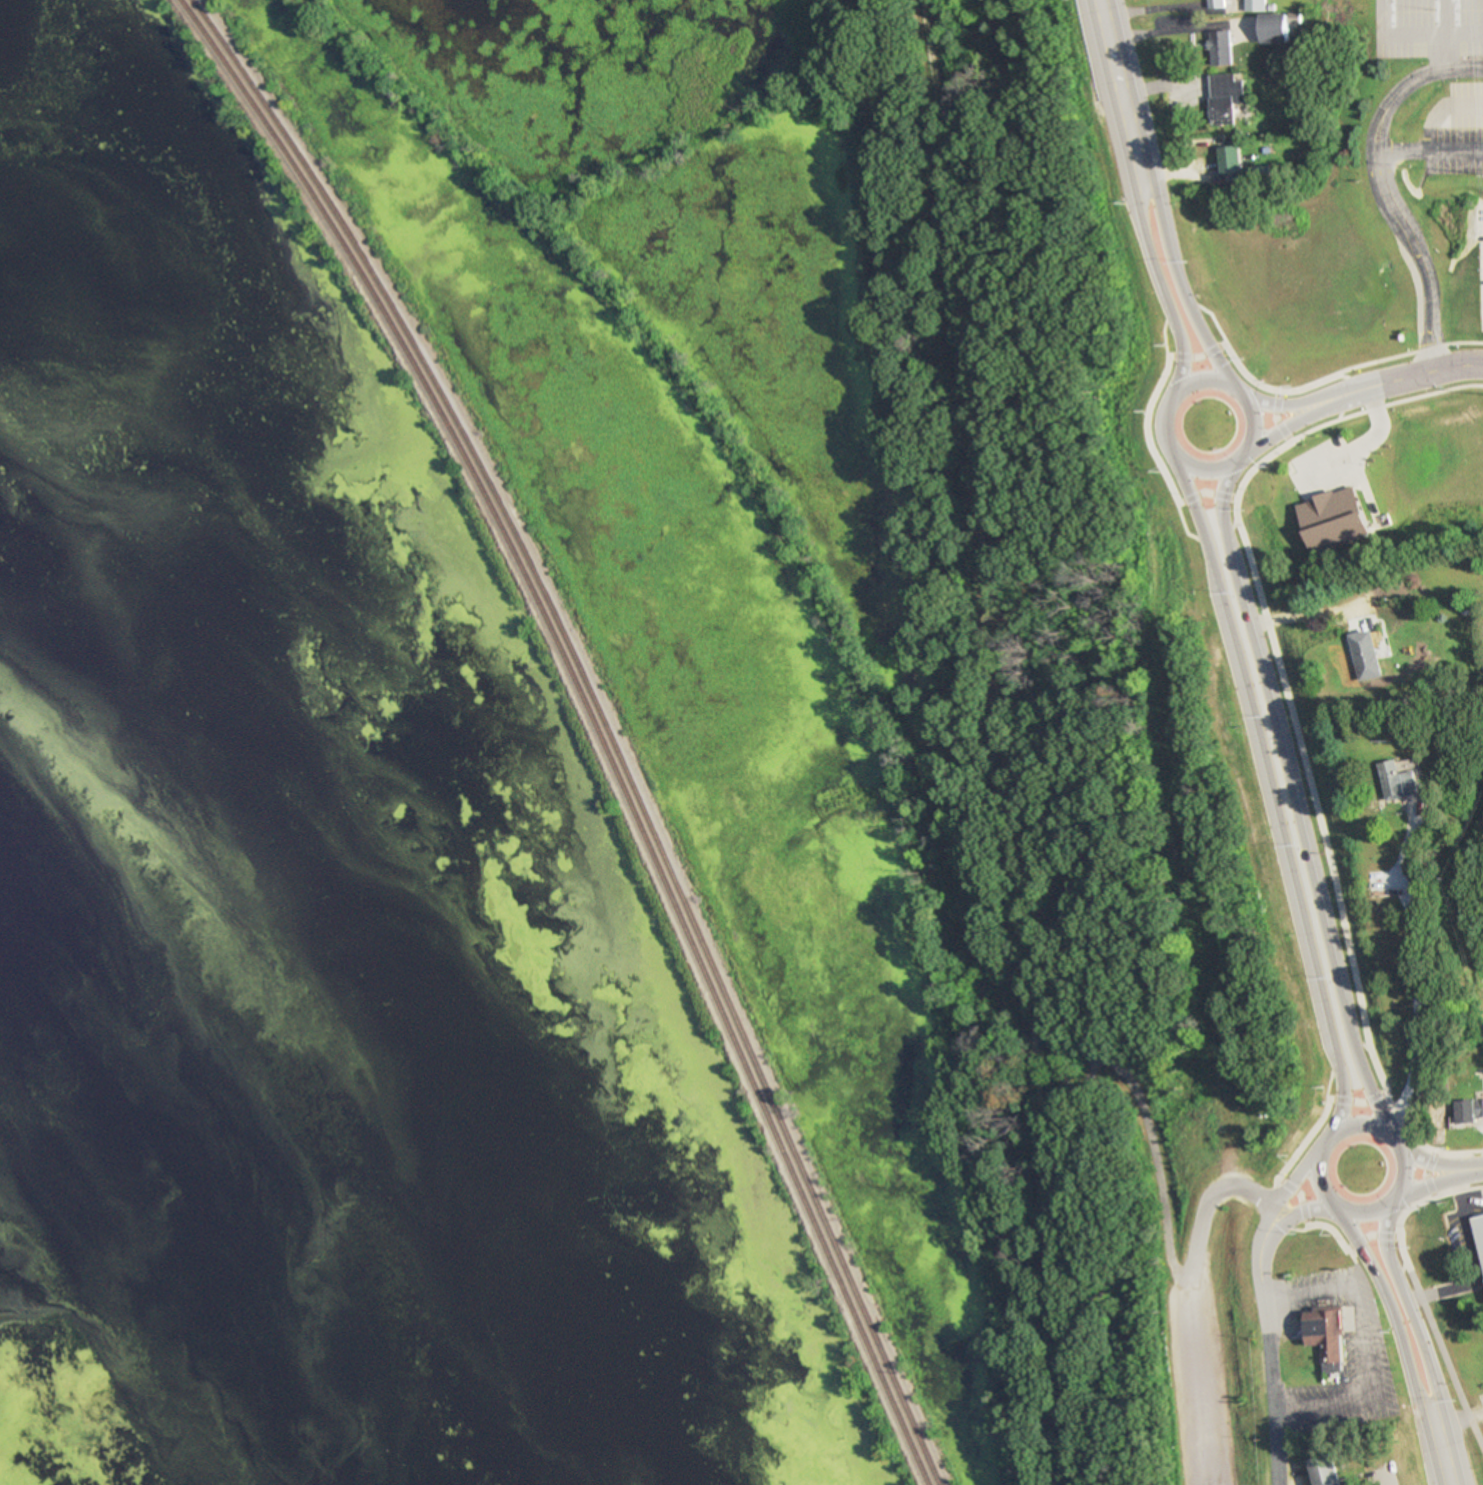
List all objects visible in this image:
road: (1095, 4)
road: (1097, 4)
building: (1215, 4)
building: (1253, 5)
road: (1372, 17)
building: (1276, 27)
parking lot: (1423, 29)
road: (1428, 33)
road: (1436, 35)
building: (1219, 49)
road: (1115, 95)
building: (1224, 99)
road: (1434, 107)
parking lot: (1451, 130)
road: (1426, 150)
building: (1230, 160)
road: (1375, 182)
road: (1173, 284)
road: (1155, 292)
road: (1204, 313)
road: (1157, 331)
road: (1371, 360)
road: (1390, 376)
road: (1236, 396)
road: (1261, 399)
road: (1380, 402)
road: (1273, 417)
road: (1352, 446)
road: (1152, 461)
parking lot: (1313, 464)
road: (1215, 496)
road: (1187, 501)
building: (1328, 513)
road: (1185, 523)
road: (1230, 526)
road: (1302, 609)
building: (1366, 654)
railway: (594, 721)
railway: (605, 722)
road: (1001, 742)
building: (1403, 779)
road: (1285, 783)
road: (1266, 784)
road: (1327, 876)
park: (1474, 883)
road: (1411, 956)
road: (1360, 1081)
road: (1333, 1082)
road: (1134, 1095)
road: (1353, 1099)
building: (1469, 1110)
road: (1343, 1120)
road: (1299, 1136)
road: (1455, 1146)
road: (1428, 1161)
road: (1472, 1168)
road: (1426, 1183)
road: (1280, 1185)
road: (1452, 1186)
road: (1291, 1213)
road: (1460, 1218)
building: (1477, 1233)
road: (1330, 1240)
building: (1306, 1242)
road: (1441, 1286)
road: (1190, 1303)
road: (1358, 1330)
building: (1325, 1334)
road: (1399, 1340)
road: (1420, 1341)
road: (1264, 1356)
parking lot: (1200, 1394)
road: (1463, 1413)
building: (1325, 1470)

